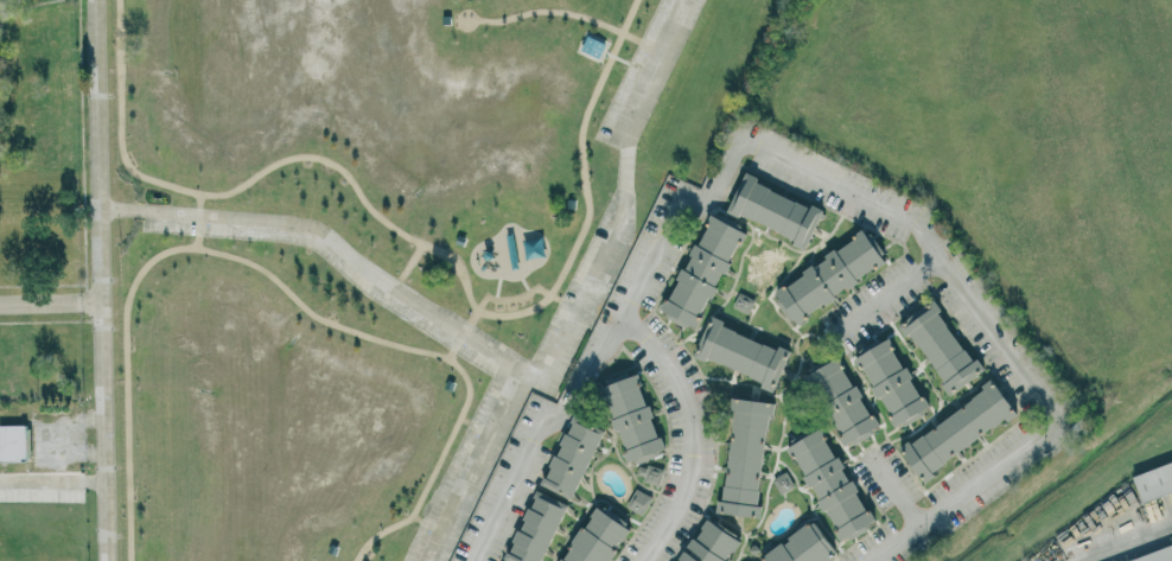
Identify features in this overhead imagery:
road: (5, 2)
road: (566, 11)
road: (654, 64)
road: (810, 168)
building: (767, 210)
road: (198, 219)
road: (326, 236)
road: (410, 237)
park: (357, 254)
building: (698, 264)
road: (408, 267)
building: (822, 274)
road: (96, 280)
road: (276, 280)
road: (885, 297)
road: (496, 298)
building: (739, 301)
road: (49, 304)
building: (936, 349)
building: (735, 352)
road: (544, 365)
building: (884, 382)
building: (835, 402)
road: (49, 417)
building: (624, 417)
road: (474, 425)
building: (949, 429)
road: (693, 434)
building: (15, 441)
building: (737, 457)
building: (563, 458)
building: (645, 472)
building: (1151, 479)
road: (50, 482)
building: (779, 482)
building: (823, 484)
road: (896, 490)
building: (635, 501)
road: (426, 522)
building: (529, 528)
road: (1115, 535)
building: (590, 536)
building: (702, 541)
building: (797, 546)
building: (1152, 554)

